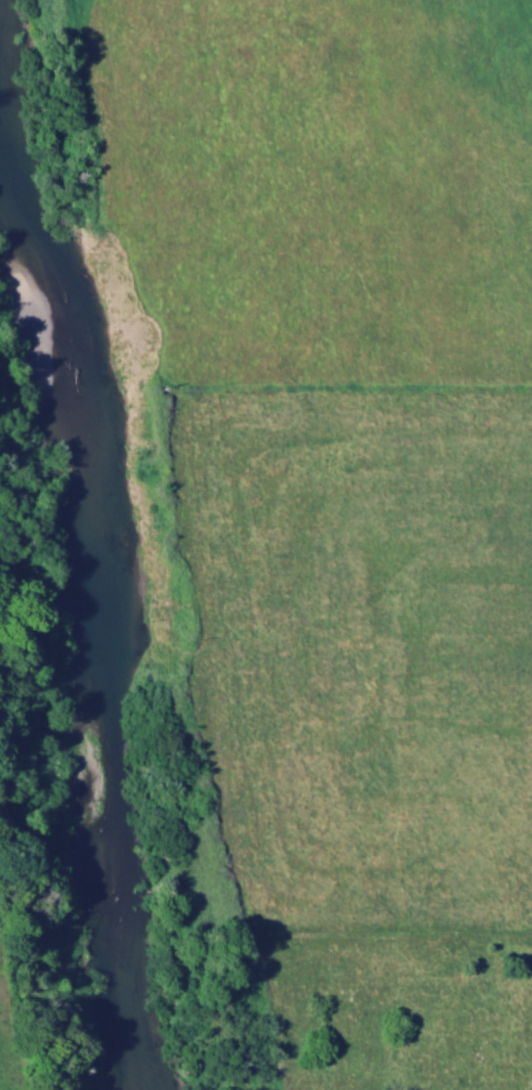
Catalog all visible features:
river: (75, 612)

